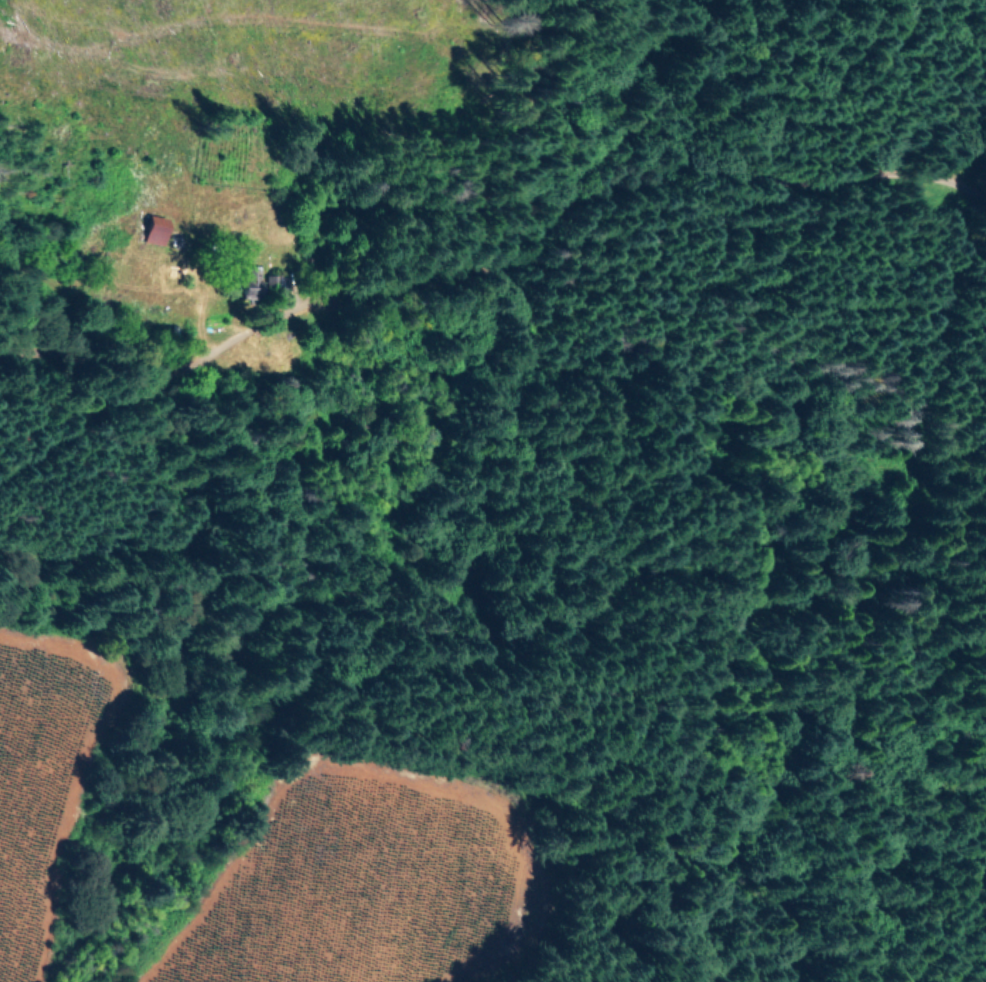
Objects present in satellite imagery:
road: (765, 206)
building: (151, 228)
road: (442, 275)

